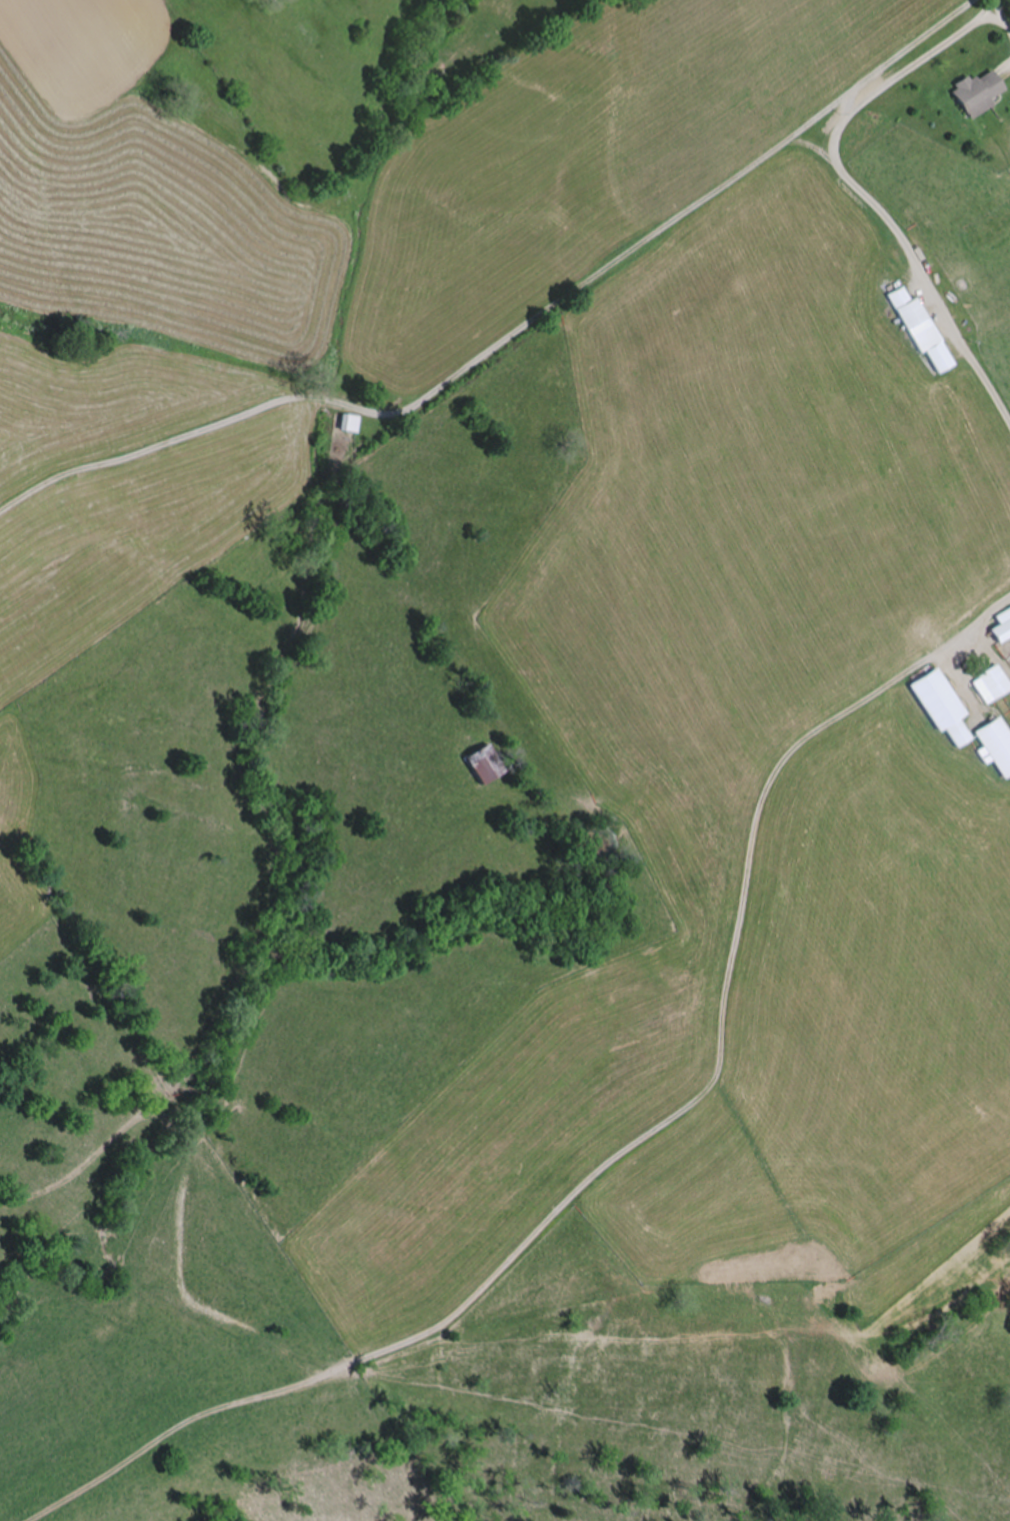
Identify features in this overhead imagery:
building: (977, 94)
road: (865, 189)
building: (912, 314)
road: (516, 334)
road: (823, 688)
building: (485, 766)
road: (597, 1189)

